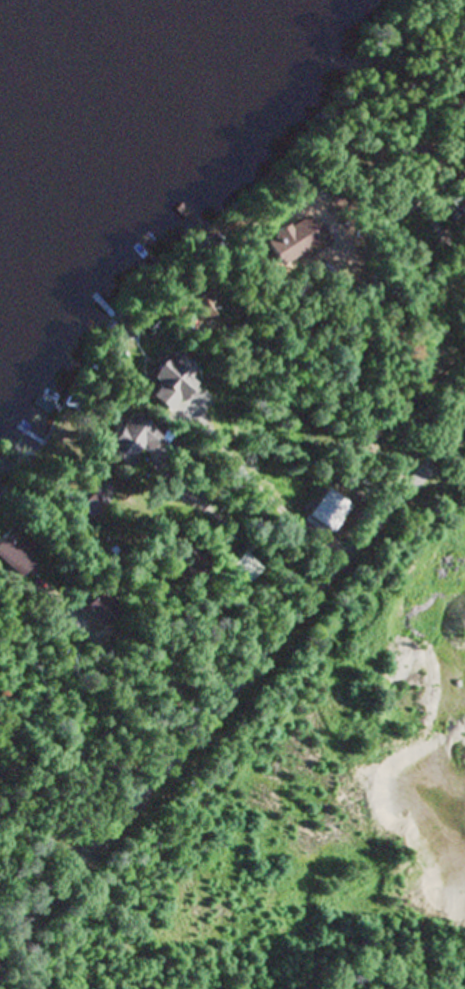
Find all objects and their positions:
building: (460, 44)
building: (398, 208)
building: (167, 383)
building: (126, 442)
road: (252, 486)
building: (96, 498)
building: (325, 513)
building: (14, 555)
building: (94, 611)
road: (123, 649)
road: (235, 690)
quarry: (303, 801)
road: (41, 837)

